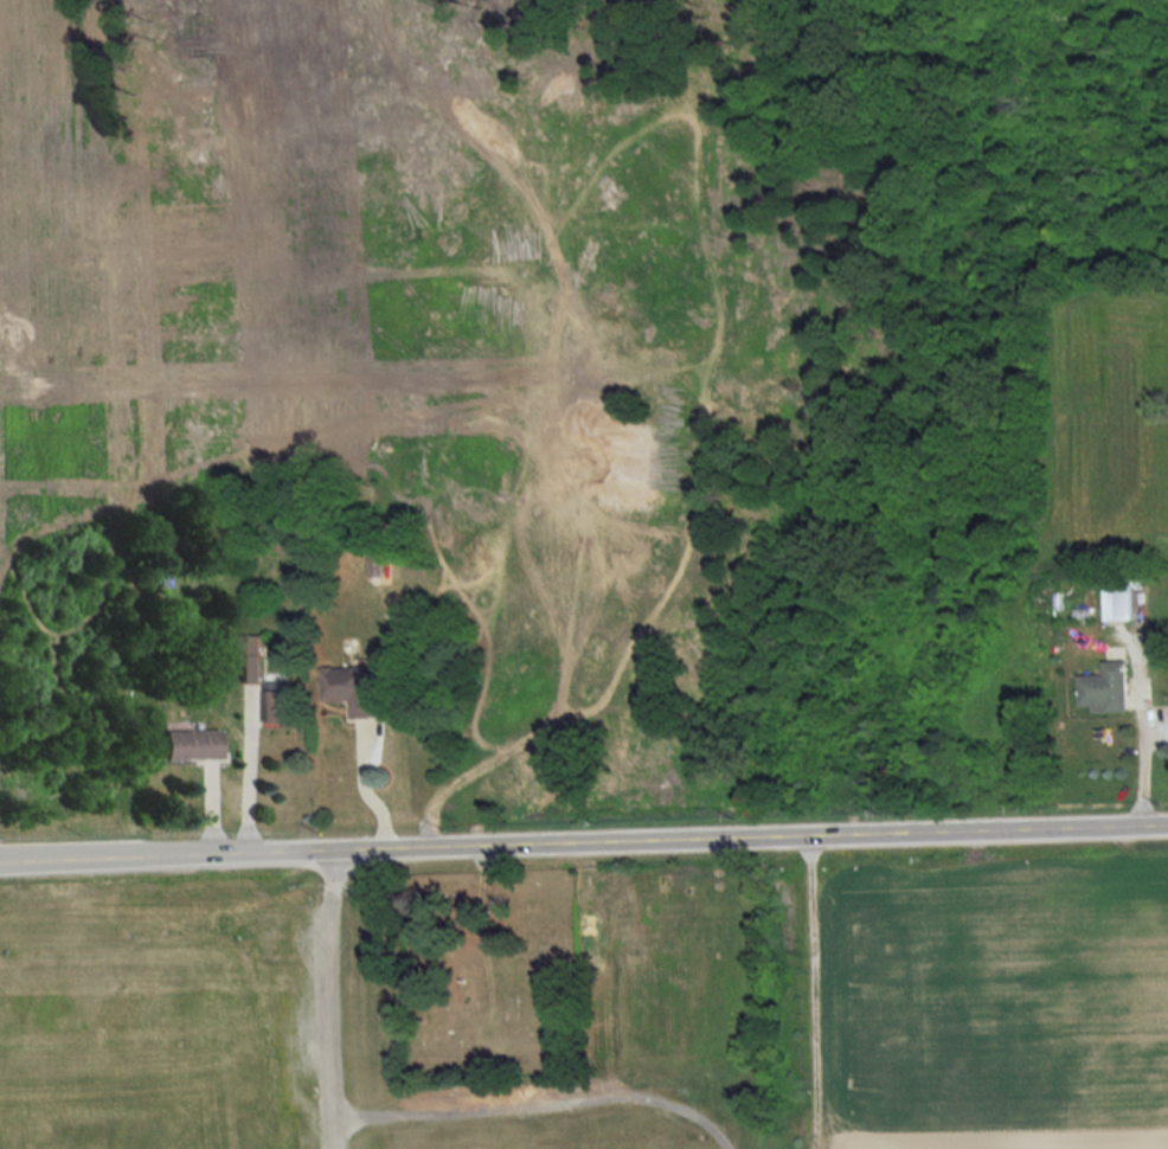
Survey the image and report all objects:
building: (1117, 604)
building: (249, 661)
building: (1105, 691)
building: (347, 692)
building: (274, 705)
building: (190, 745)
road: (1140, 770)
road: (245, 783)
road: (361, 785)
road: (583, 840)
park: (483, 975)
crop: (994, 991)
road: (326, 997)

